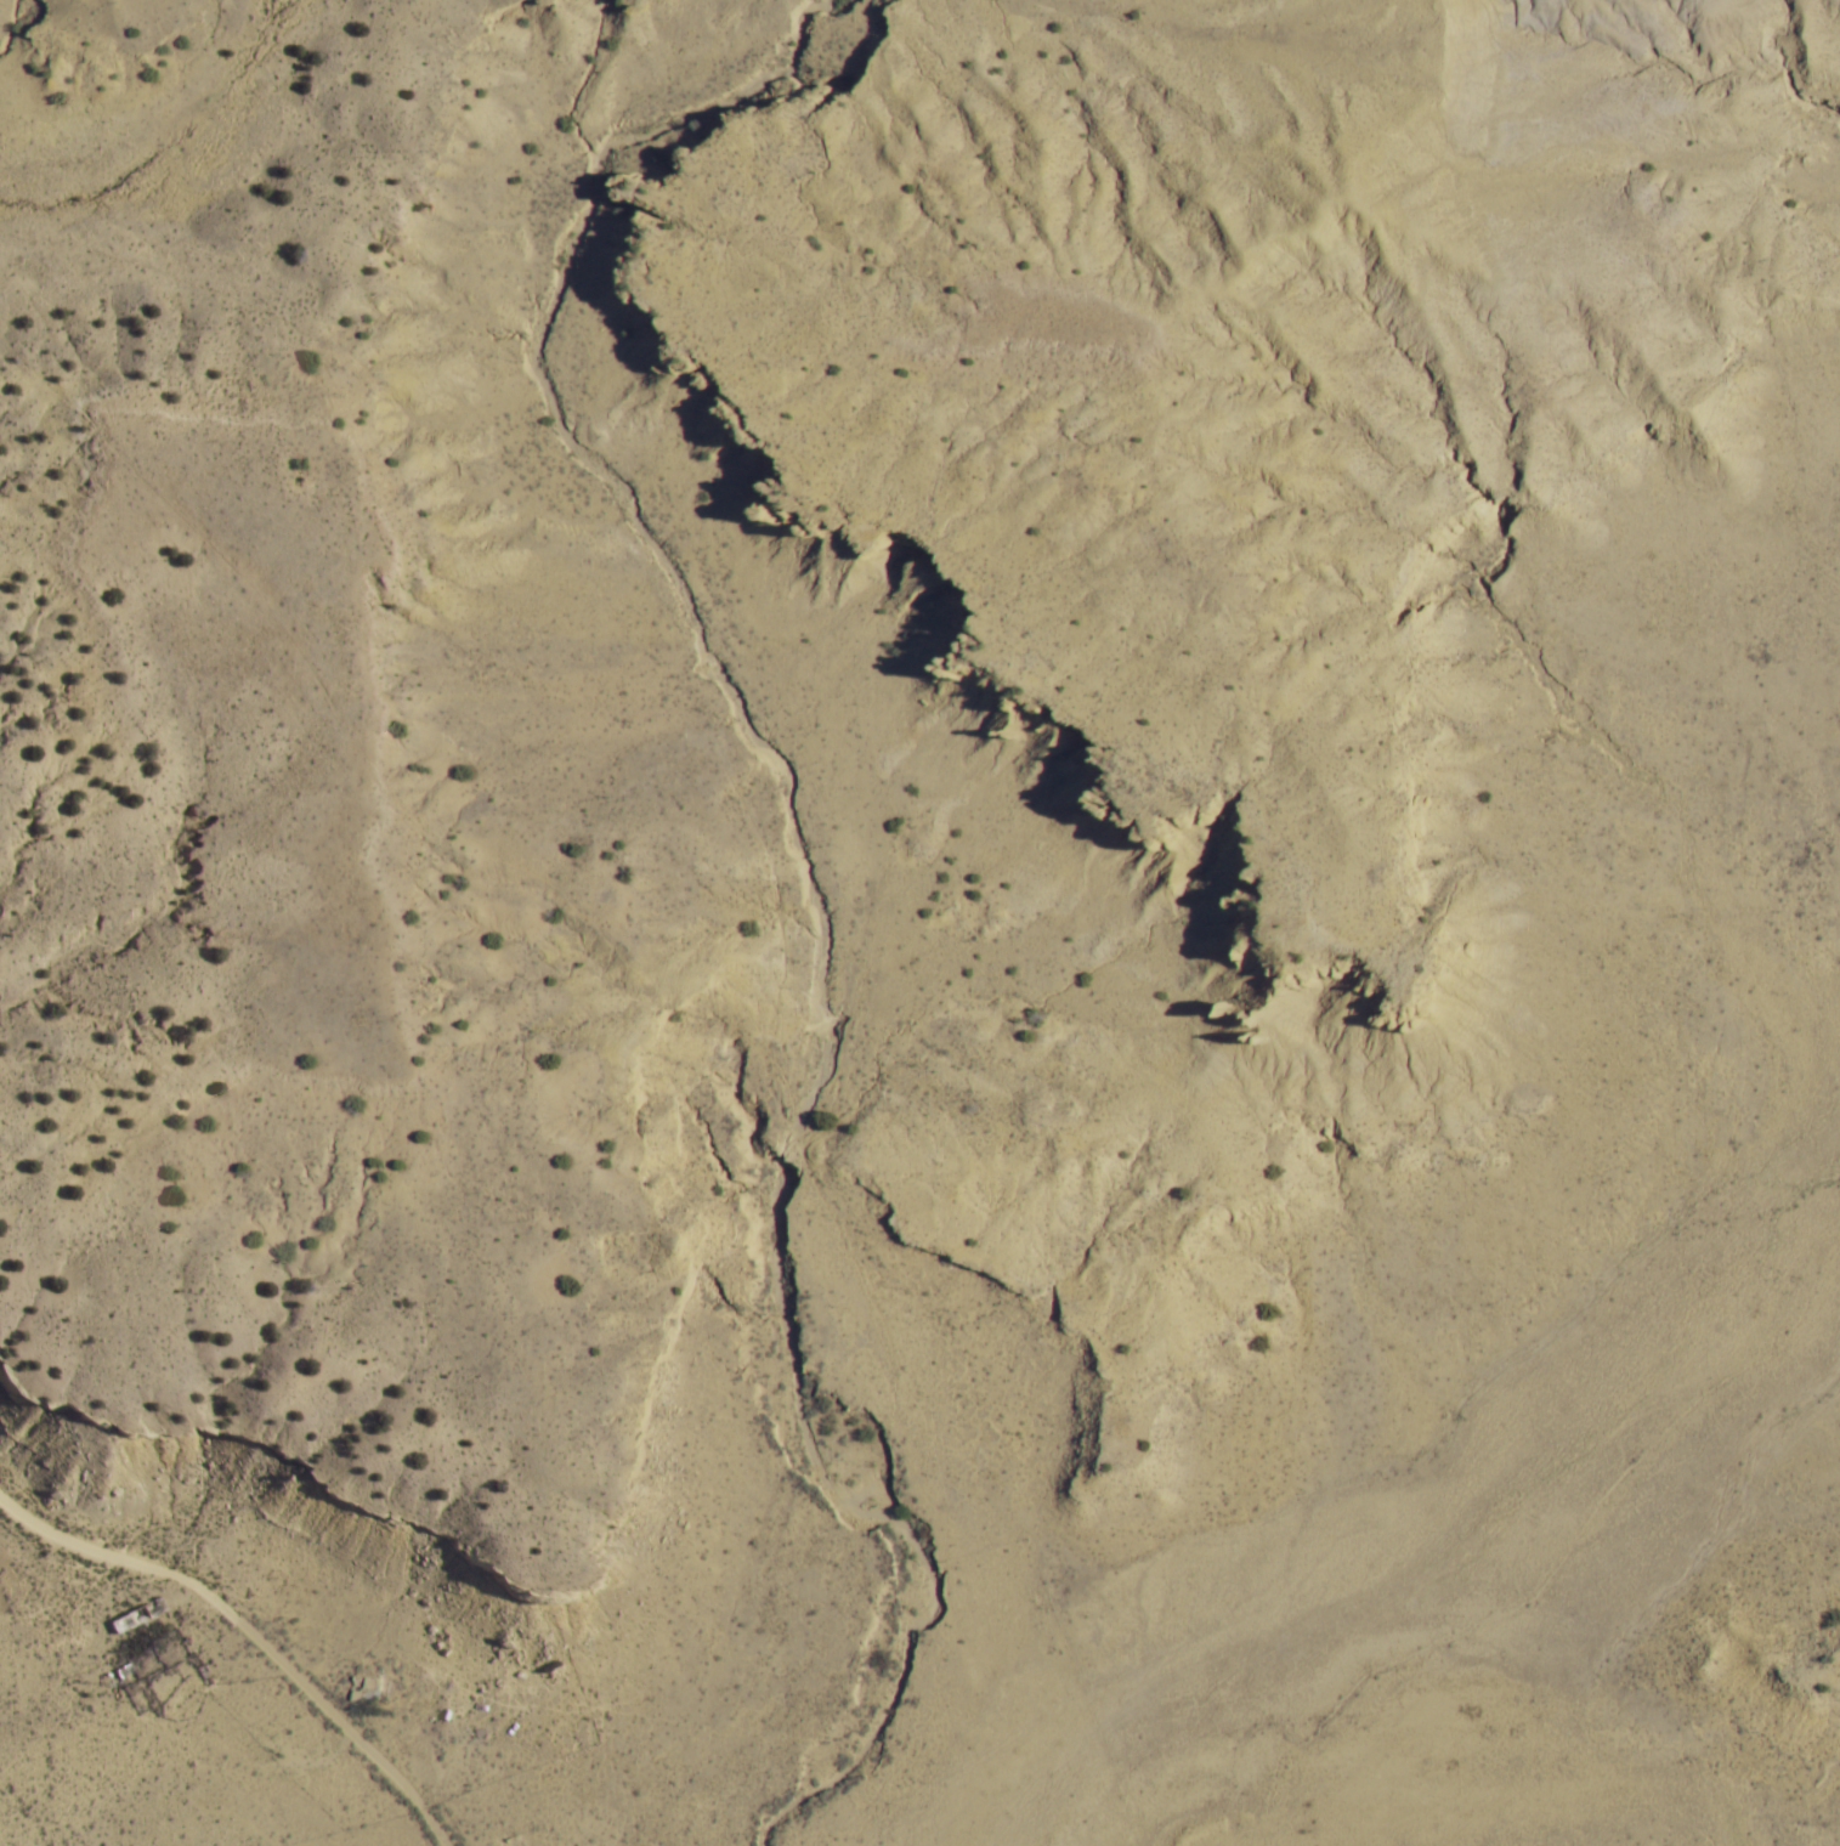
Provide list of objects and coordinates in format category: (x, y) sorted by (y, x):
road: (245, 1636)
building: (364, 1689)

